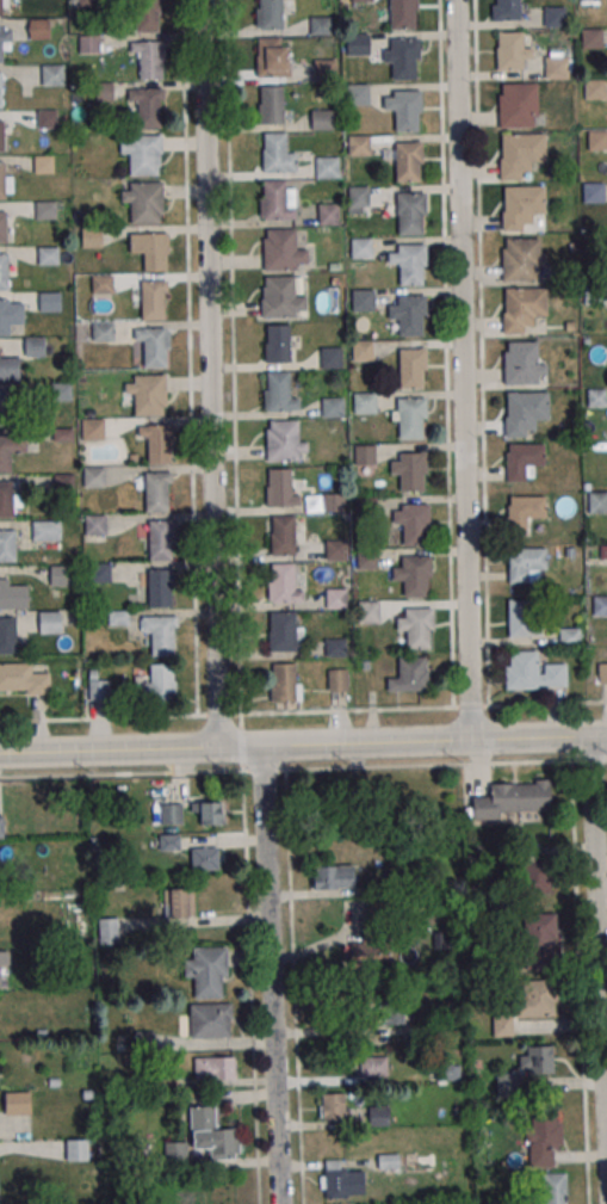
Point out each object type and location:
building: (361, 0)
building: (0, 8)
building: (506, 10)
building: (270, 14)
building: (402, 14)
building: (145, 16)
building: (555, 16)
building: (321, 25)
building: (38, 29)
building: (589, 38)
building: (358, 43)
building: (0, 50)
building: (514, 50)
building: (272, 56)
building: (403, 57)
building: (149, 58)
building: (557, 67)
building: (324, 70)
building: (52, 74)
building: (595, 88)
building: (358, 94)
building: (0, 97)
building: (271, 104)
building: (518, 105)
building: (147, 107)
building: (407, 110)
building: (47, 118)
building: (322, 119)
building: (1, 136)
building: (596, 140)
building: (358, 144)
building: (143, 154)
building: (277, 154)
building: (519, 154)
building: (408, 160)
building: (44, 163)
building: (324, 167)
building: (5, 184)
building: (593, 192)
building: (358, 199)
building: (143, 200)
building: (275, 200)
building: (521, 206)
building: (45, 209)
building: (410, 212)
building: (329, 214)
building: (2, 228)
building: (92, 236)
building: (361, 247)
building: (150, 249)
building: (283, 249)
building: (48, 254)
building: (524, 259)
building: (411, 264)
building: (4, 272)
building: (103, 284)
building: (281, 297)
building: (154, 300)
building: (363, 300)
building: (49, 301)
building: (522, 307)
building: (411, 315)
building: (4, 316)
building: (103, 331)
building: (278, 344)
building: (153, 345)
building: (35, 346)
building: (363, 350)
road: (481, 352)
road: (446, 353)
building: (332, 357)
building: (522, 363)
building: (10, 369)
building: (413, 369)
road: (464, 370)
road: (211, 373)
building: (279, 393)
building: (148, 394)
building: (365, 402)
building: (2, 407)
building: (333, 407)
building: (525, 412)
building: (410, 416)
building: (93, 428)
building: (285, 440)
building: (157, 442)
building: (5, 455)
building: (365, 455)
building: (524, 461)
building: (410, 471)
building: (94, 476)
building: (280, 489)
building: (156, 492)
building: (6, 499)
building: (596, 501)
building: (333, 502)
building: (525, 512)
building: (413, 523)
building: (95, 524)
building: (45, 530)
building: (283, 535)
building: (161, 539)
building: (7, 545)
building: (336, 549)
building: (367, 561)
building: (526, 564)
building: (100, 573)
building: (60, 575)
building: (414, 575)
building: (284, 585)
building: (160, 587)
building: (13, 594)
building: (336, 597)
building: (600, 605)
building: (370, 611)
building: (525, 618)
building: (50, 622)
building: (417, 626)
building: (284, 631)
building: (161, 634)
building: (7, 635)
building: (569, 636)
building: (336, 647)
building: (533, 671)
building: (602, 672)
building: (411, 674)
building: (23, 679)
building: (337, 680)
building: (285, 683)
building: (157, 684)
building: (99, 689)
road: (303, 710)
road: (303, 745)
building: (513, 798)
building: (211, 811)
building: (171, 814)
building: (0, 827)
road: (289, 844)
building: (205, 858)
building: (538, 875)
building: (334, 877)
road: (601, 877)
building: (179, 902)
road: (231, 920)
building: (107, 930)
building: (539, 941)
building: (368, 956)
building: (4, 959)
building: (208, 971)
road: (272, 974)
building: (528, 1004)
building: (380, 1013)
building: (208, 1019)
building: (373, 1066)
building: (213, 1067)
building: (525, 1069)
building: (442, 1072)
building: (16, 1103)
building: (333, 1106)
building: (379, 1116)
building: (212, 1135)
building: (544, 1135)
building: (76, 1150)
building: (175, 1155)
building: (334, 1178)
building: (555, 1187)

